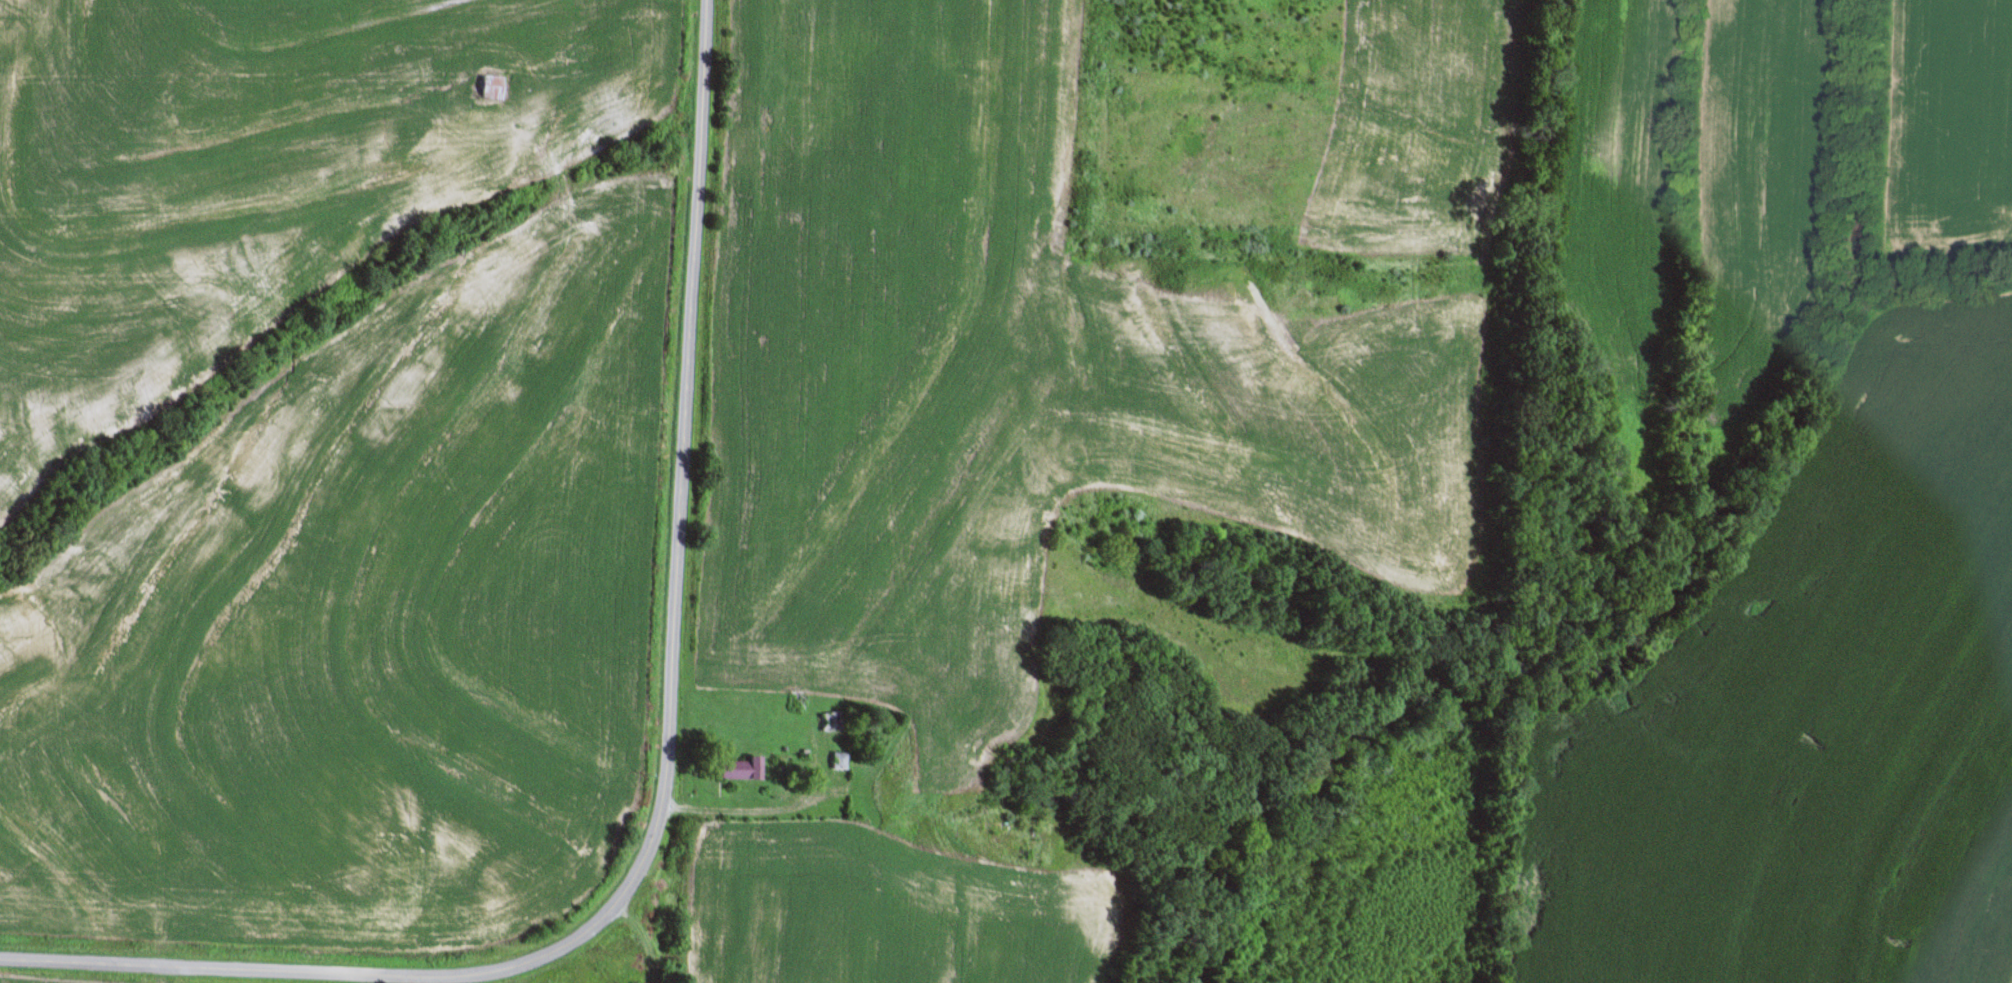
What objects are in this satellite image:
building: (488, 88)
building: (832, 723)
building: (838, 762)
building: (739, 771)
road: (670, 778)
road: (891, 853)

